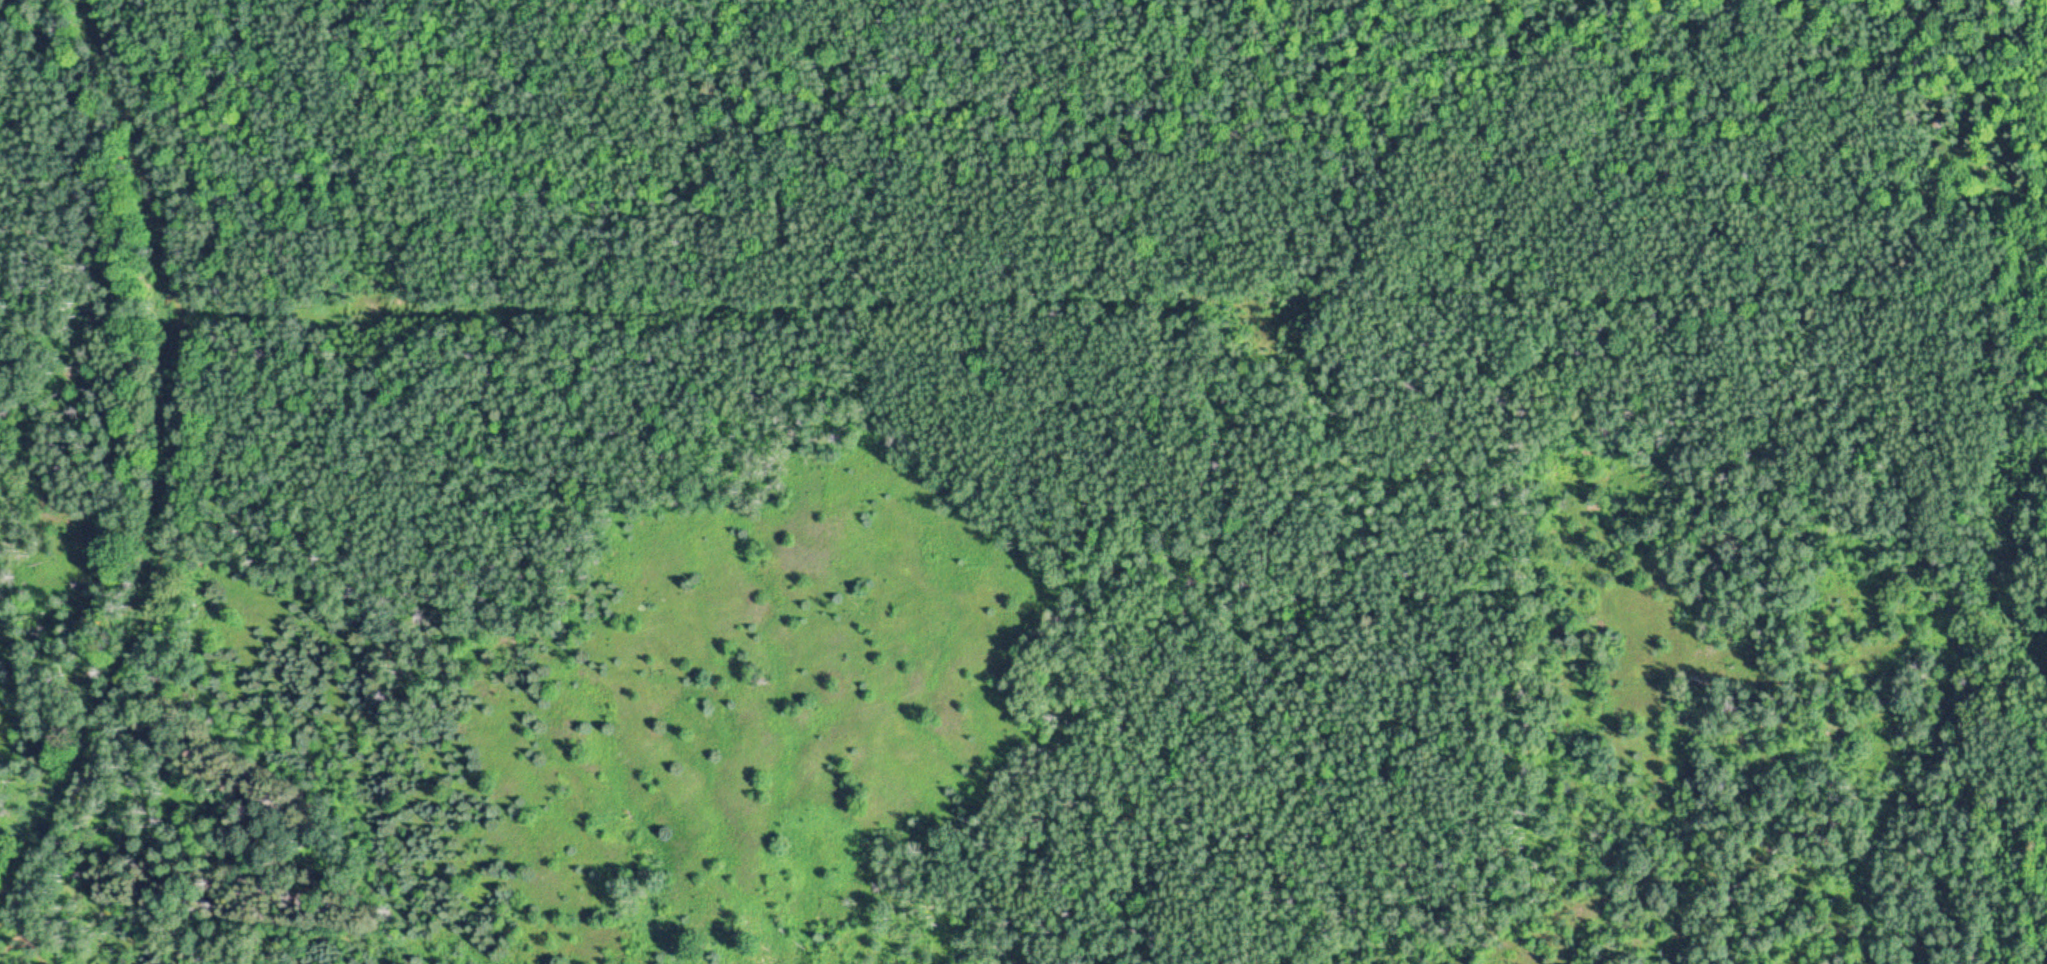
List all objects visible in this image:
road: (1409, 297)
road: (169, 470)

